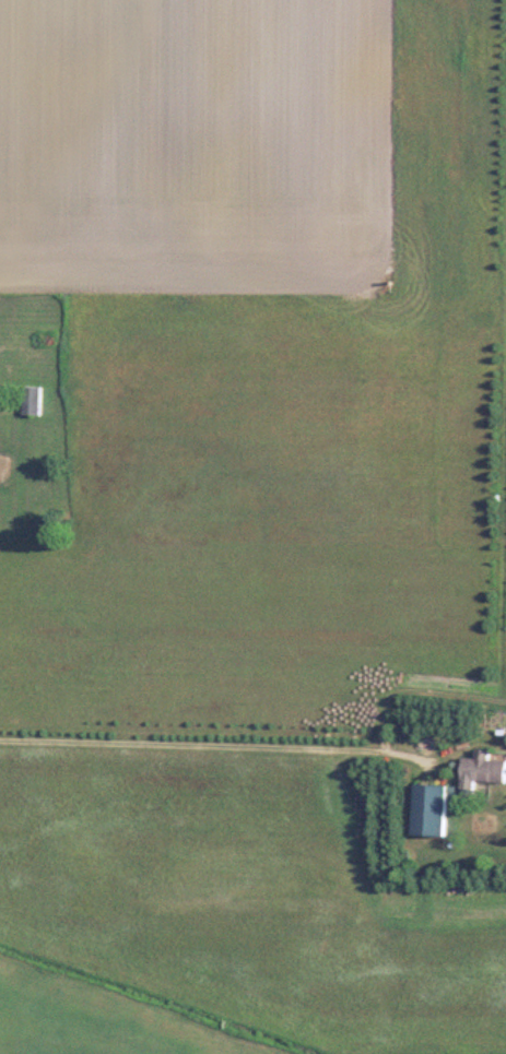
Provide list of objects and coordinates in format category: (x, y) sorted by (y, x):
building: (37, 400)
road: (210, 742)
building: (484, 768)
building: (437, 807)

